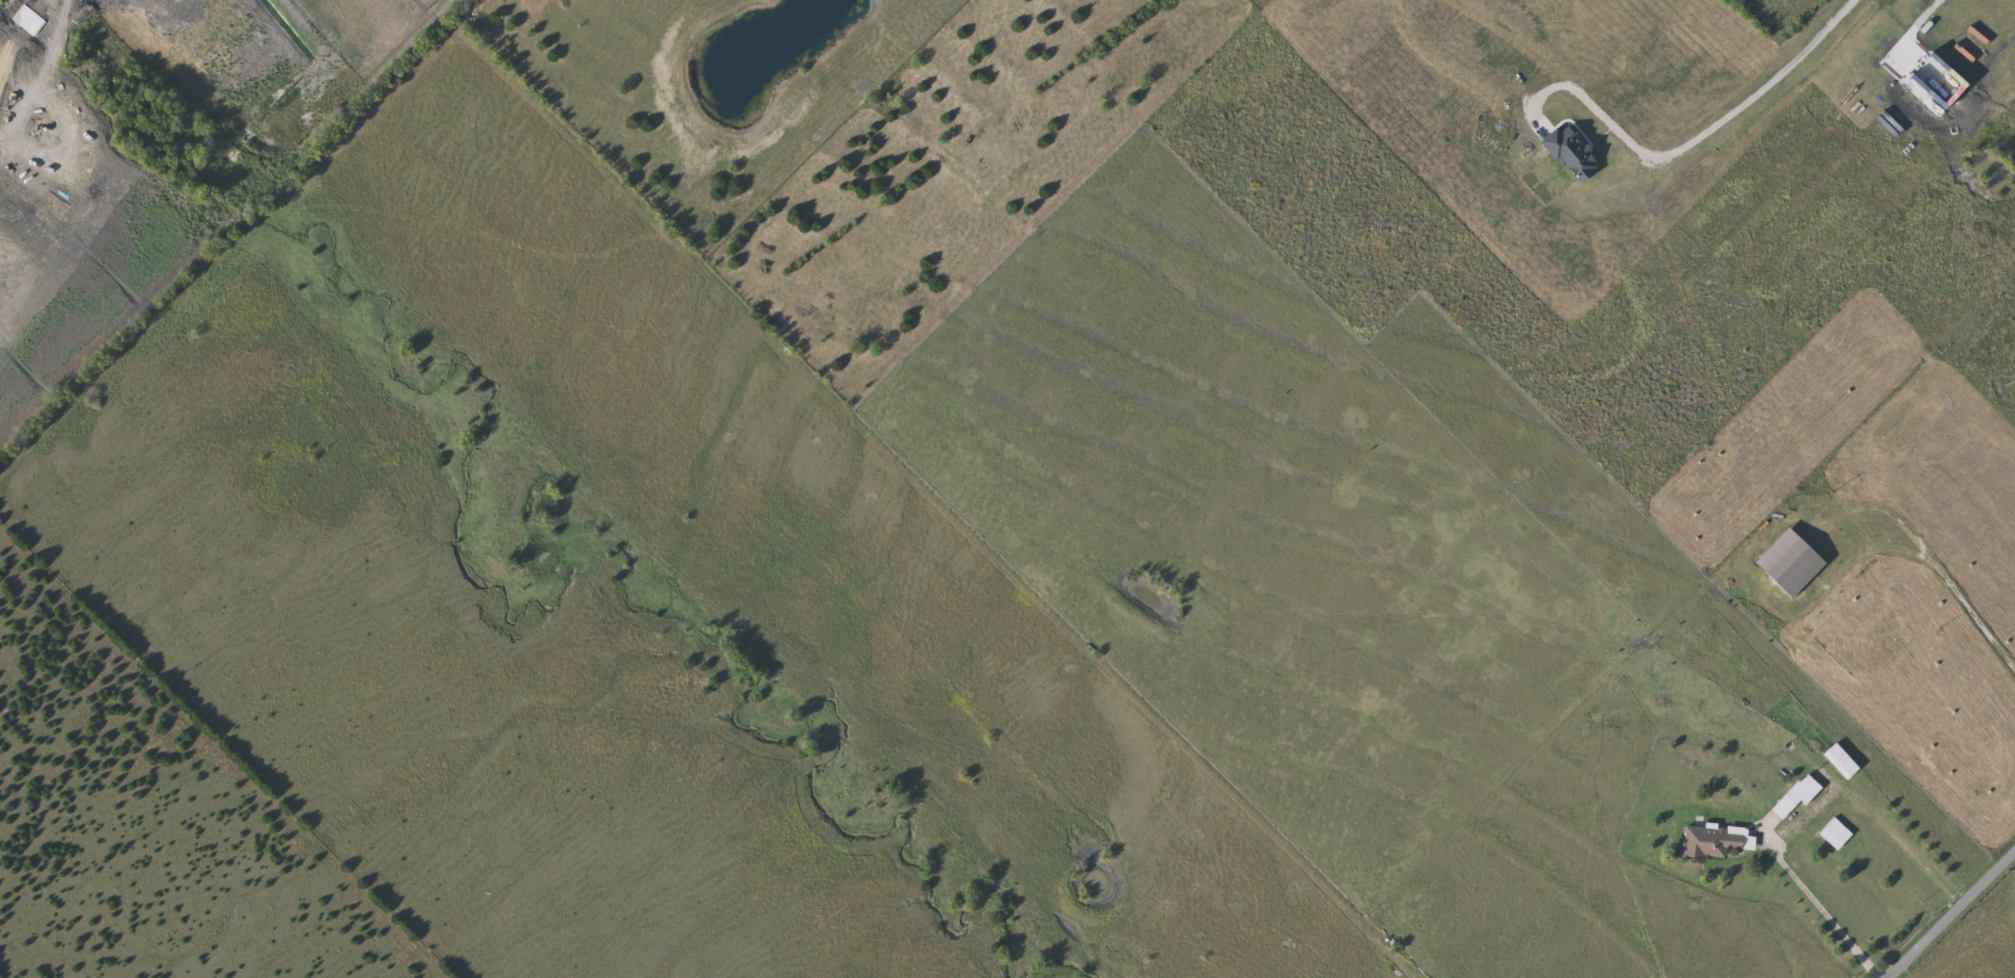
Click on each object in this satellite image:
road: (1920, 20)
road: (1756, 96)
building: (1844, 762)
building: (1800, 796)
building: (1838, 835)
building: (1717, 842)
road: (1950, 912)
road: (1826, 913)

